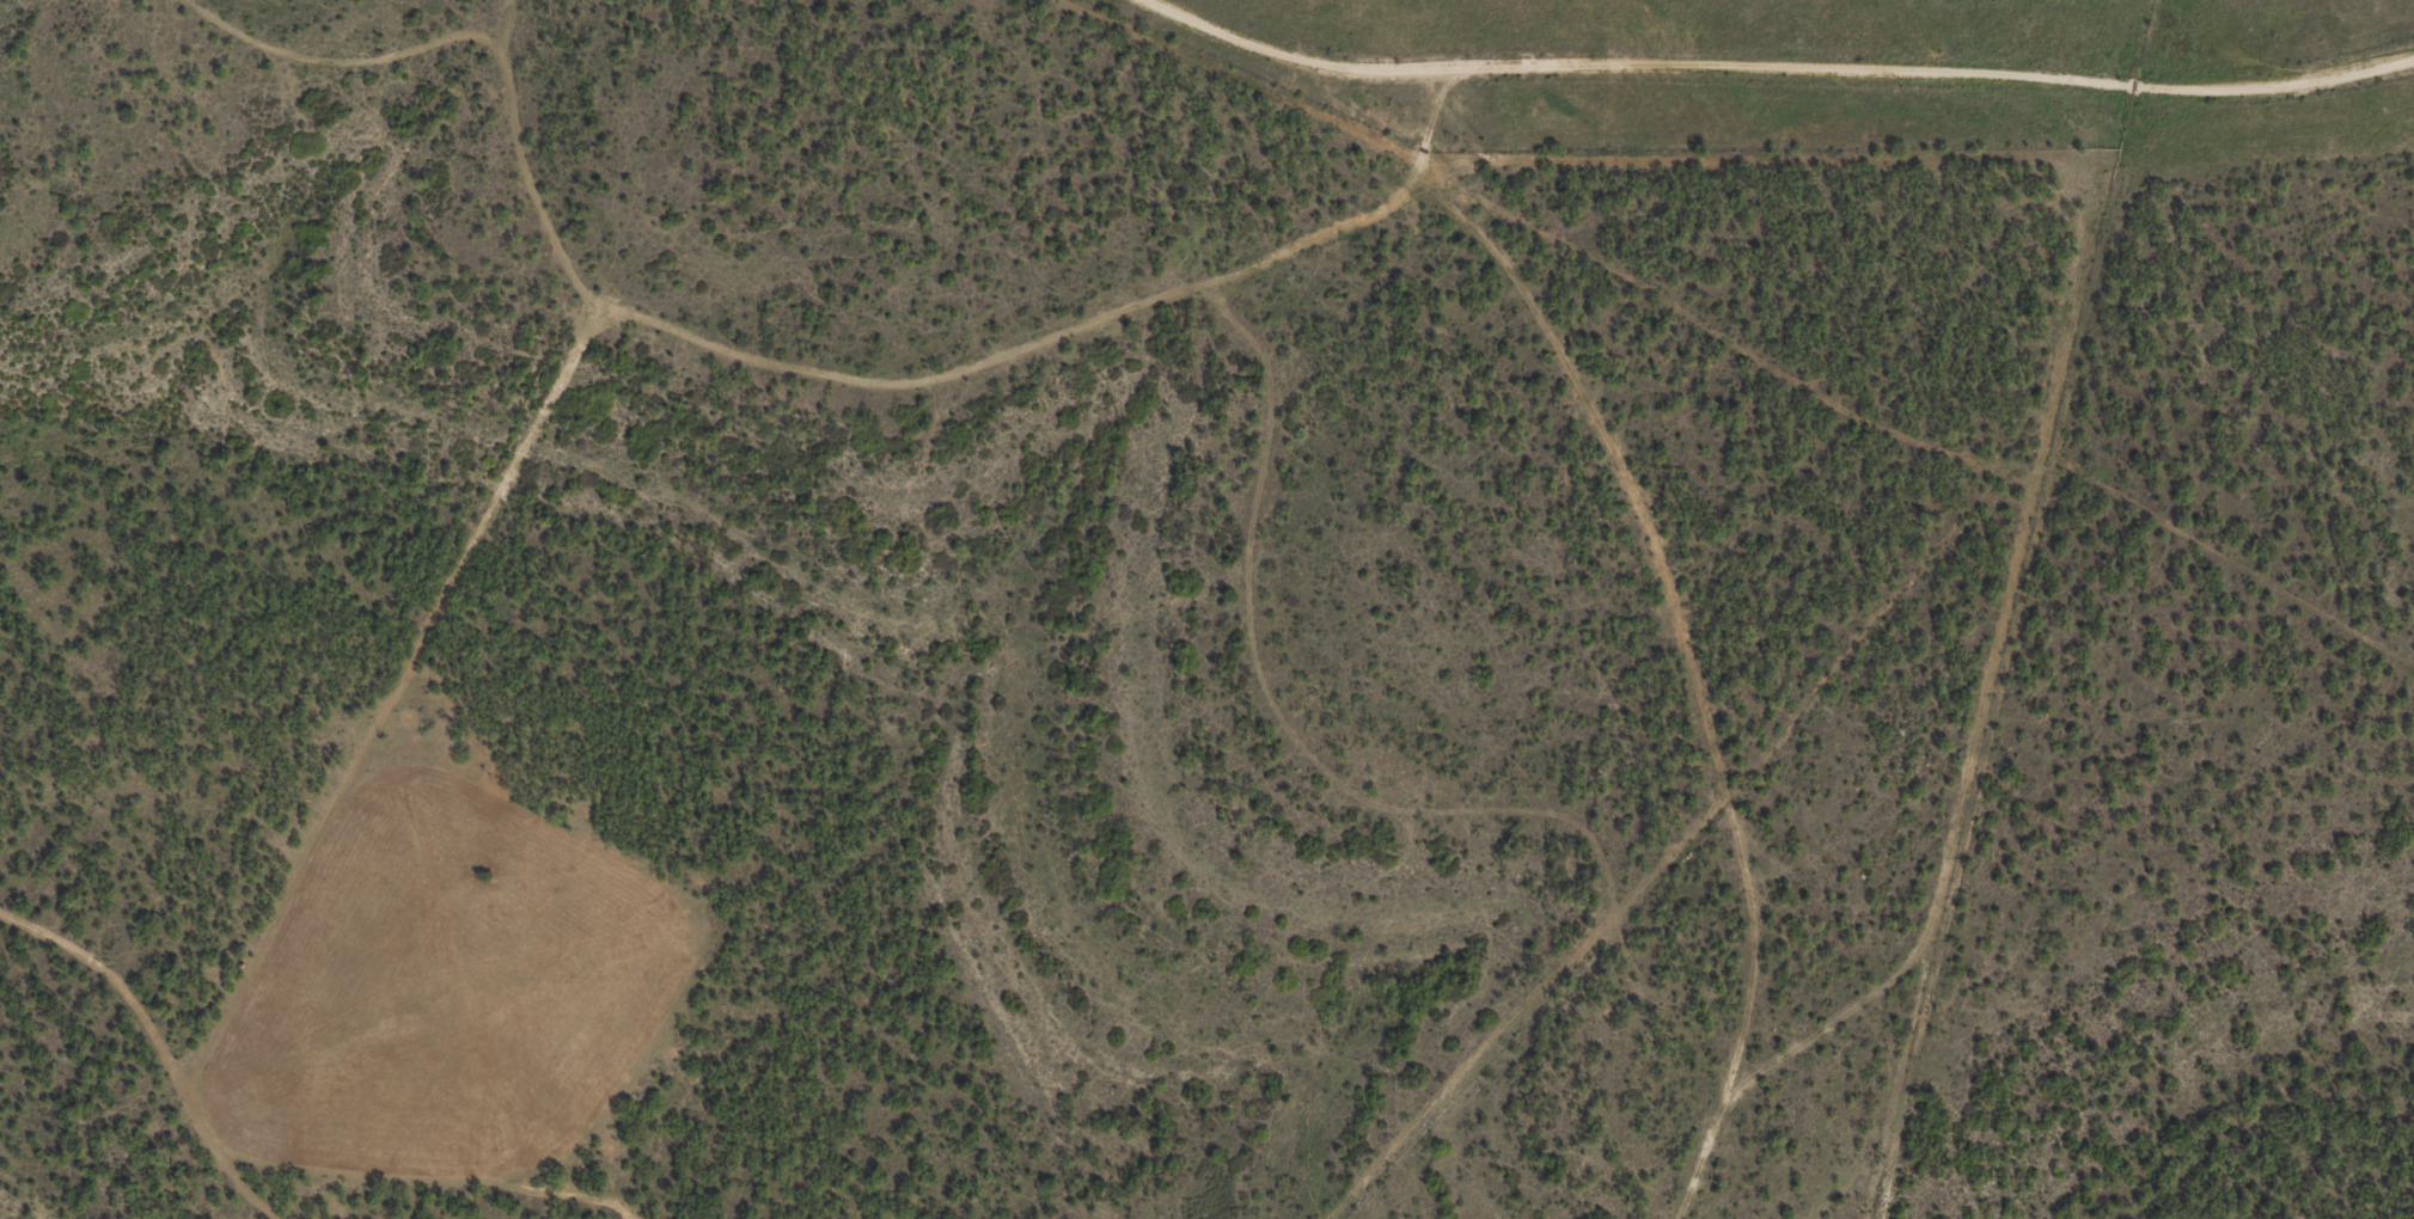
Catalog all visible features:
road: (1892, 72)
road: (1666, 513)
road: (273, 1147)

